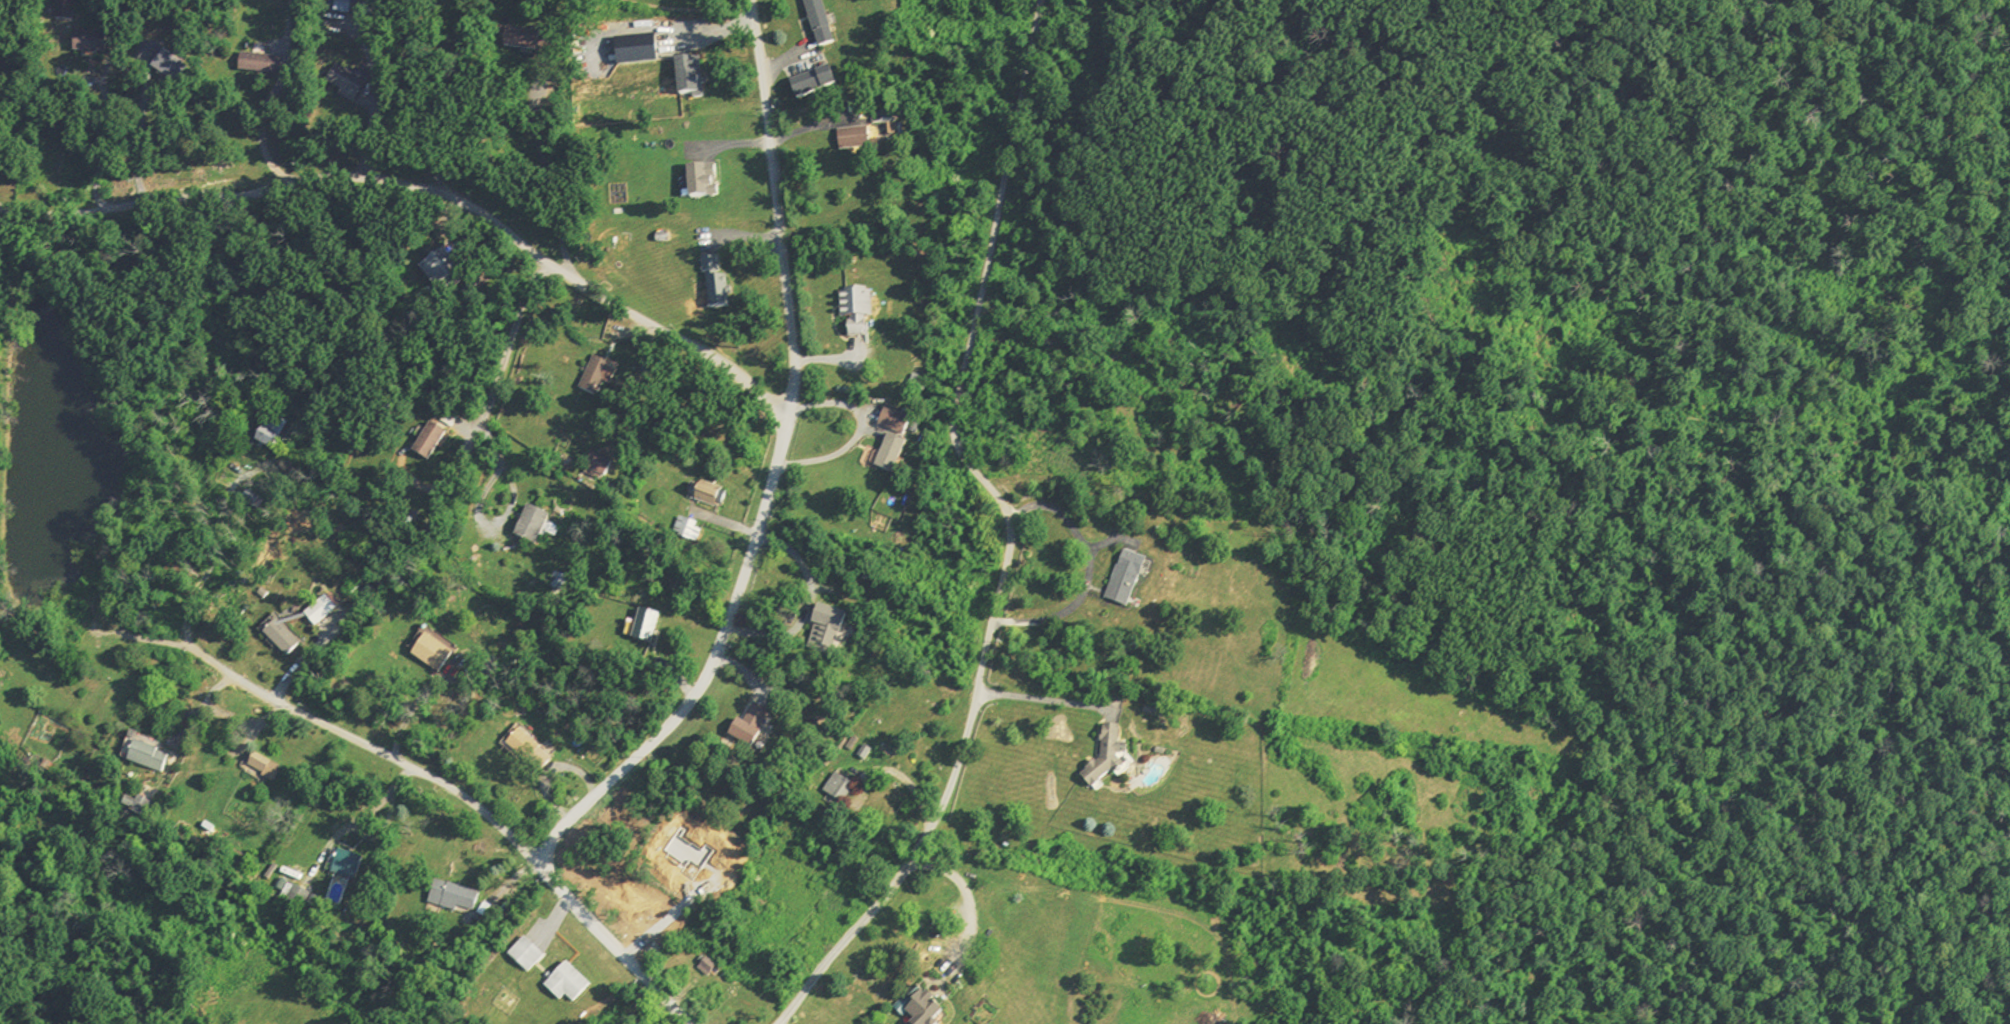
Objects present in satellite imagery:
building: (351, 7)
building: (829, 23)
building: (1, 35)
building: (100, 40)
building: (538, 41)
building: (268, 63)
building: (180, 66)
building: (698, 79)
building: (352, 82)
building: (818, 86)
road: (139, 136)
building: (845, 140)
road: (104, 143)
building: (711, 181)
road: (427, 190)
building: (723, 282)
building: (865, 311)
road: (502, 368)
building: (605, 375)
building: (907, 419)
building: (440, 440)
building: (280, 441)
building: (903, 452)
building: (607, 466)
road: (774, 472)
building: (716, 496)
building: (542, 524)
building: (696, 528)
road: (1007, 531)
road: (1113, 542)
road: (1091, 569)
building: (1136, 577)
building: (654, 626)
building: (839, 630)
building: (291, 636)
building: (441, 651)
road: (1043, 701)
building: (761, 725)
building: (535, 745)
building: (150, 750)
building: (1120, 758)
building: (274, 768)
road: (904, 781)
building: (848, 787)
road: (462, 801)
building: (354, 864)
building: (463, 896)
building: (536, 954)
building: (716, 968)
building: (578, 984)
building: (936, 1006)

